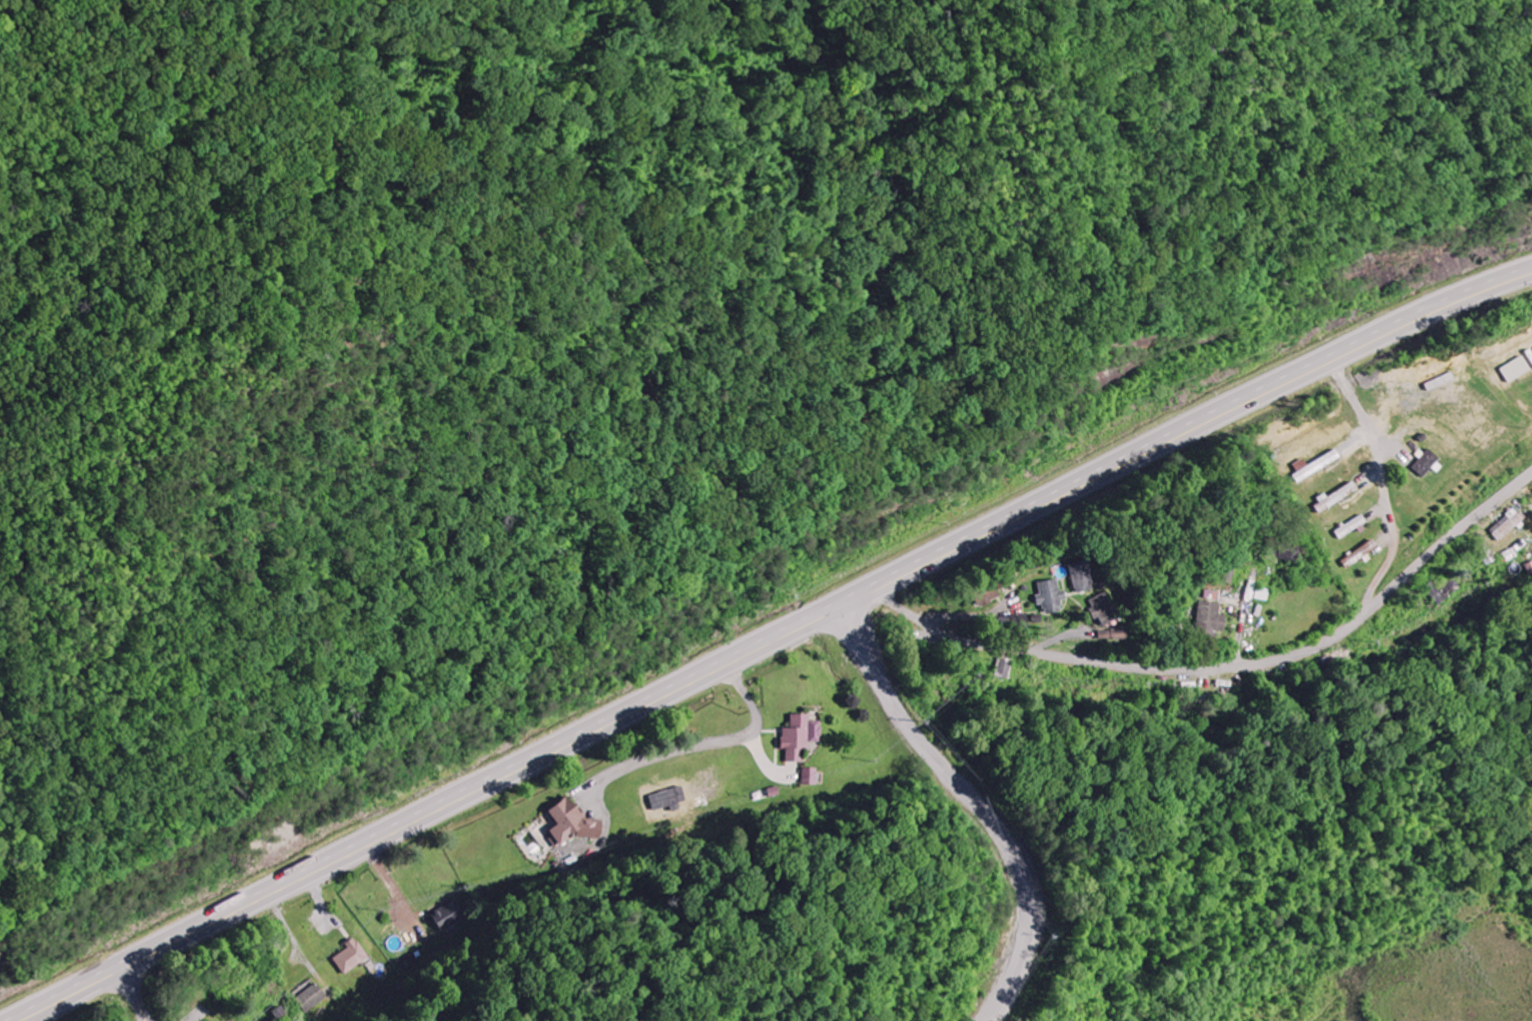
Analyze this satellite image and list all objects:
building: (1427, 464)
building: (1317, 466)
building: (1341, 495)
building: (1507, 525)
building: (1350, 527)
building: (1286, 551)
building: (1528, 568)
building: (1076, 578)
building: (1212, 596)
building: (982, 597)
building: (1045, 598)
building: (1100, 610)
building: (1209, 619)
road: (858, 629)
road: (773, 642)
building: (1004, 669)
road: (1219, 693)
building: (798, 737)
building: (809, 777)
building: (569, 824)
road: (997, 825)
building: (445, 917)
building: (350, 956)
road: (135, 994)
building: (312, 998)
road: (163, 1011)

